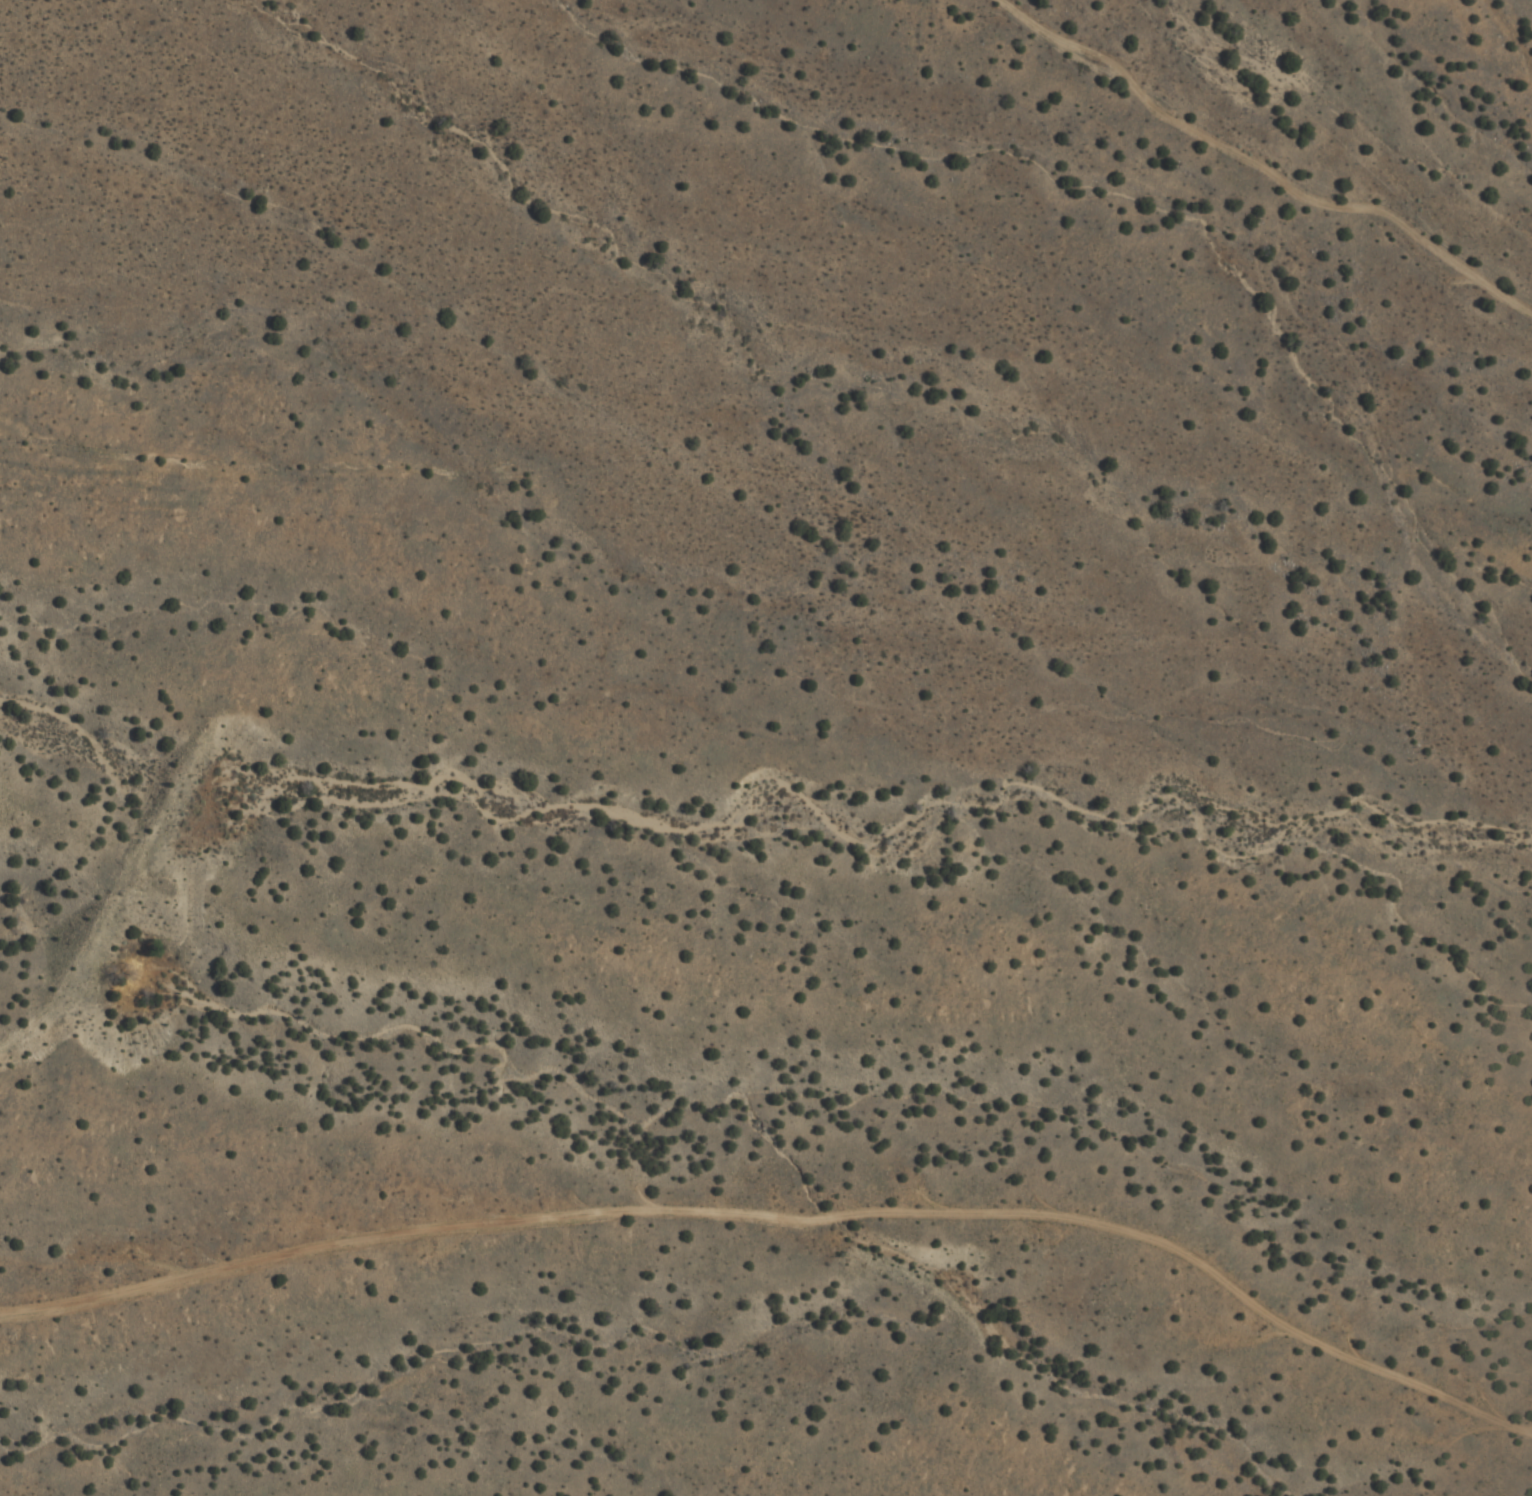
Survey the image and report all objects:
road: (1258, 170)
road: (787, 1216)

